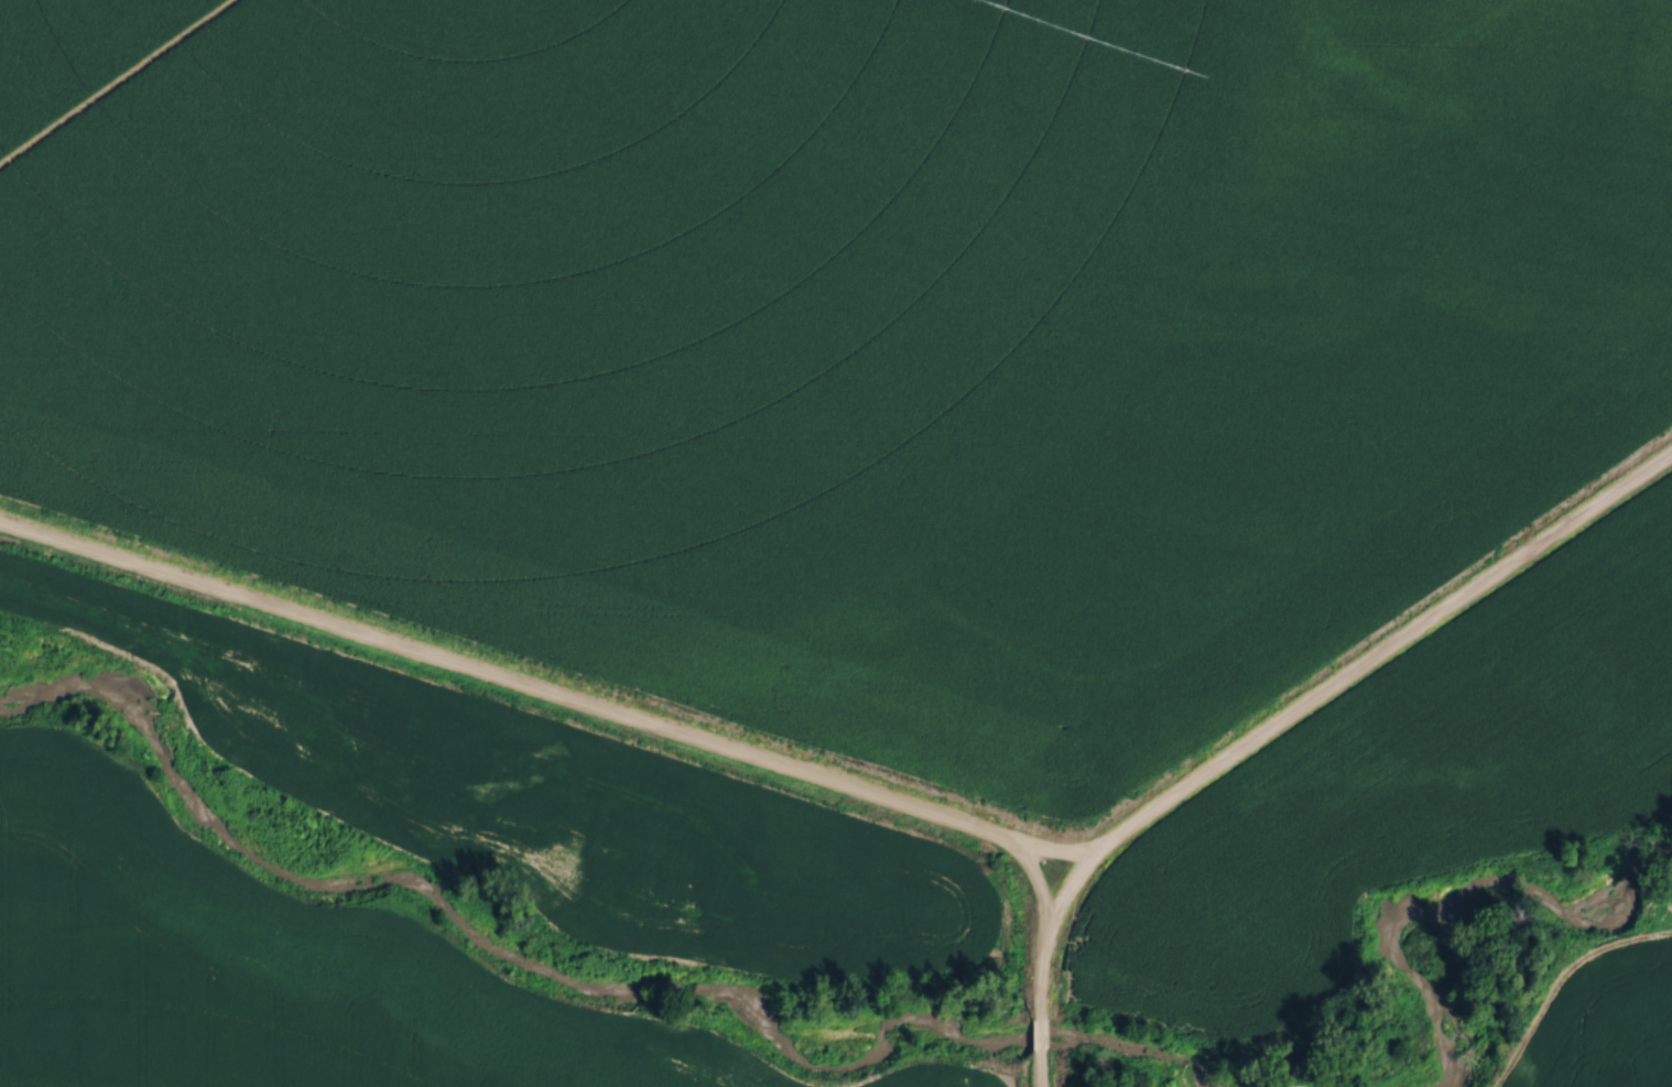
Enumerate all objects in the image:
road: (549, 694)
road: (1305, 704)
road: (1057, 852)
road: (1053, 1039)
road: (1054, 1070)

